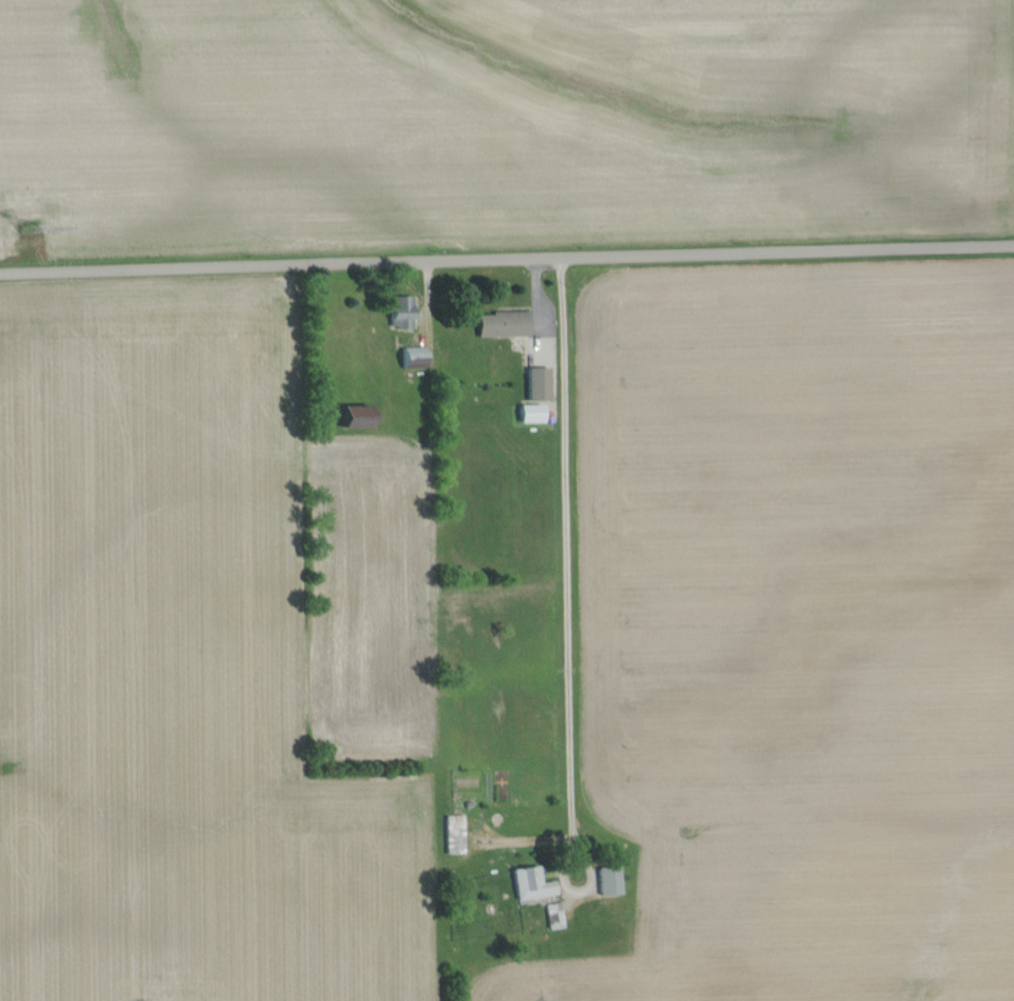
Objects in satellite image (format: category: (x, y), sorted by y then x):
power tower: (36, 242)
road: (506, 256)
building: (404, 311)
building: (500, 322)
building: (415, 356)
building: (539, 384)
building: (533, 413)
building: (357, 422)
road: (563, 557)
building: (452, 832)
building: (610, 879)
building: (528, 881)
building: (552, 914)

